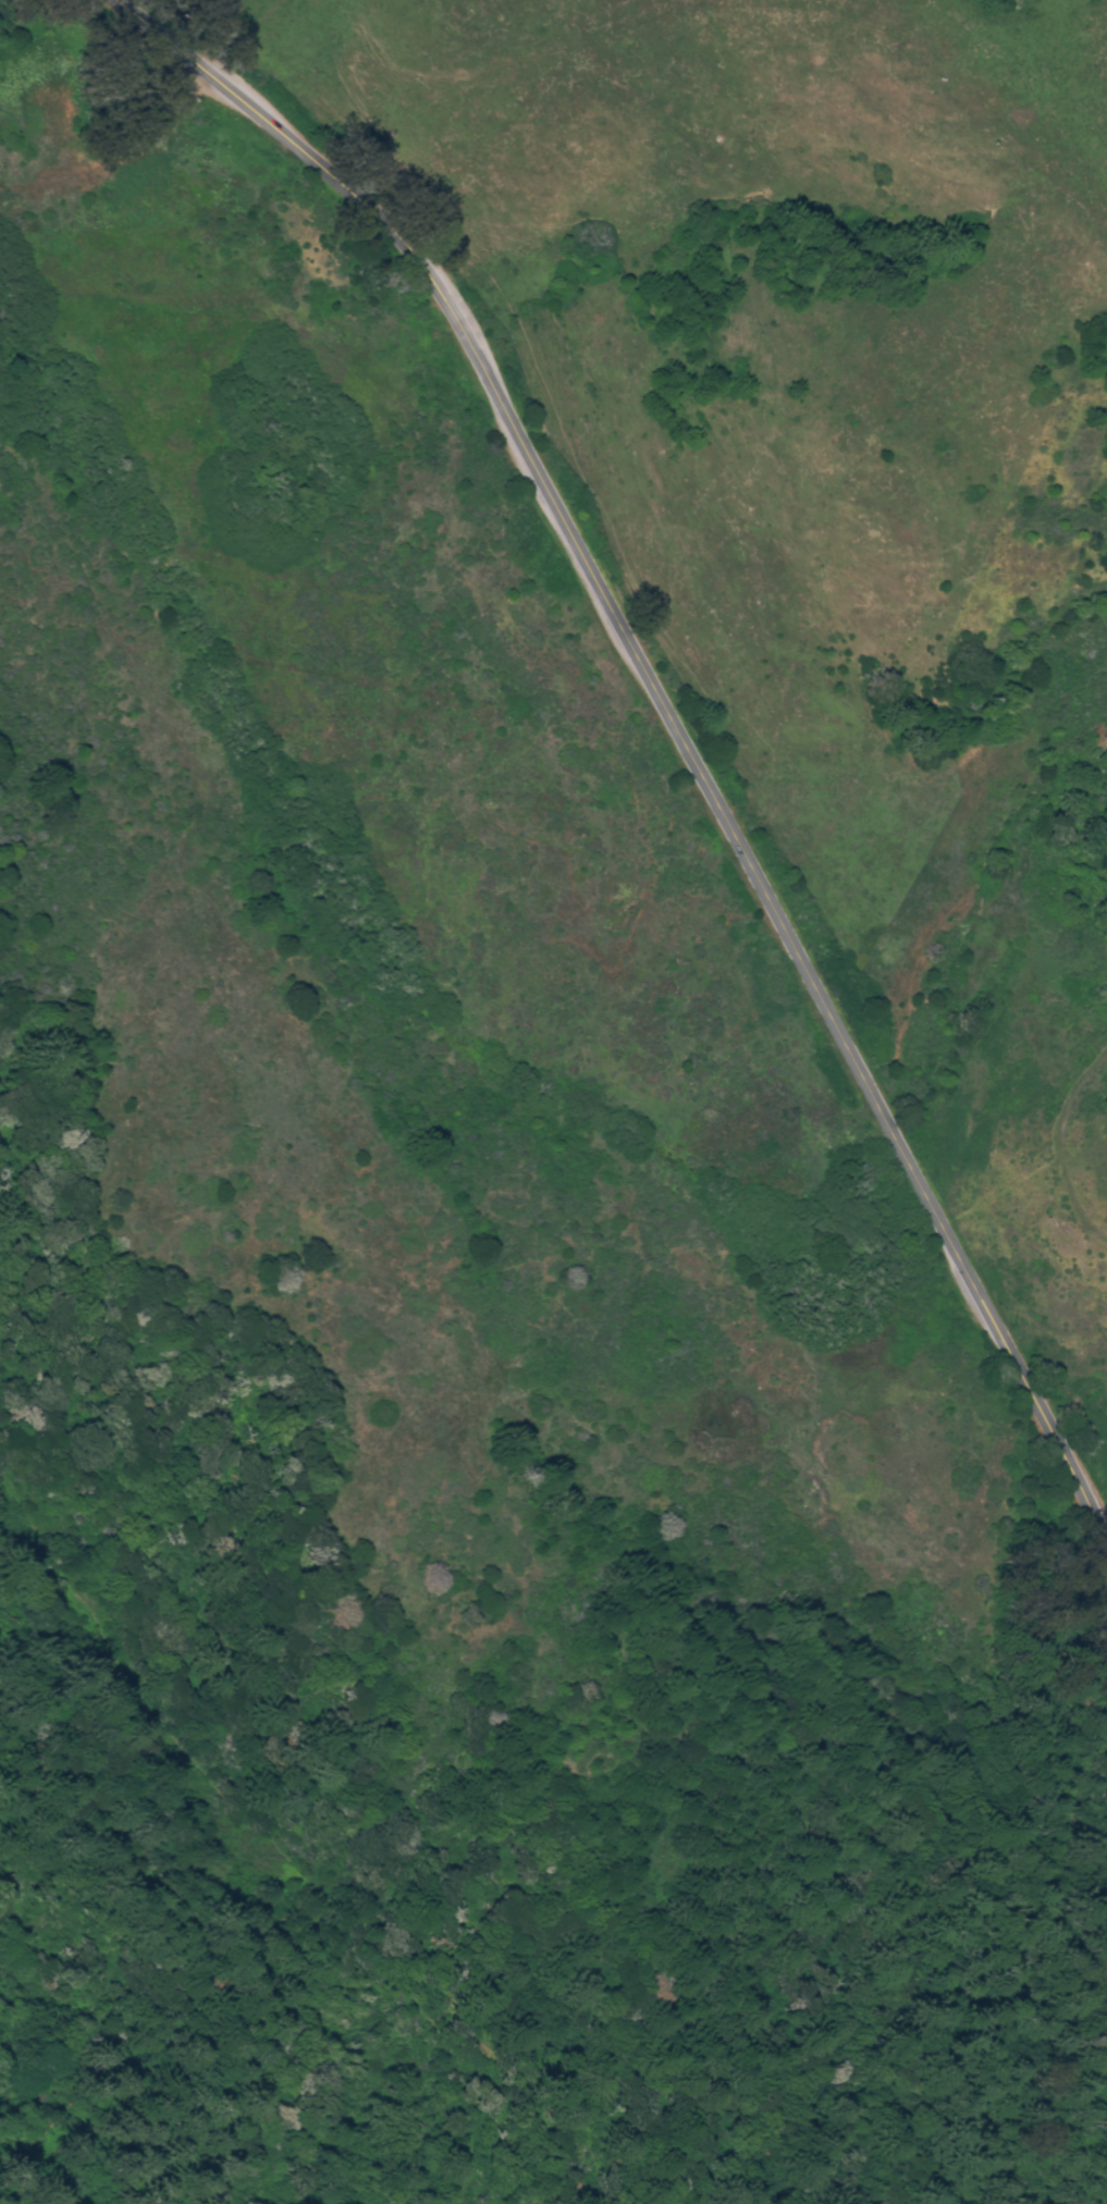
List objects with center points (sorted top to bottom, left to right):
road: (675, 732)
road: (270, 1831)

